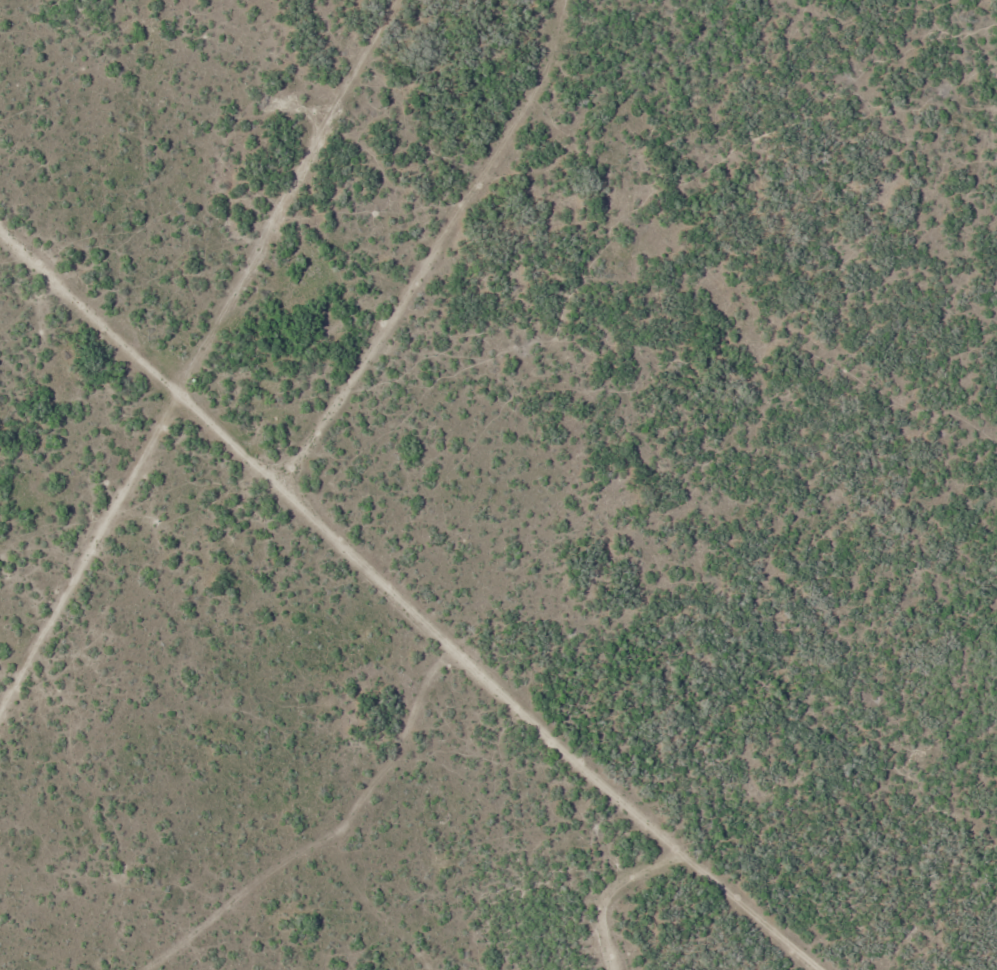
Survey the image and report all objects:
road: (400, 606)

